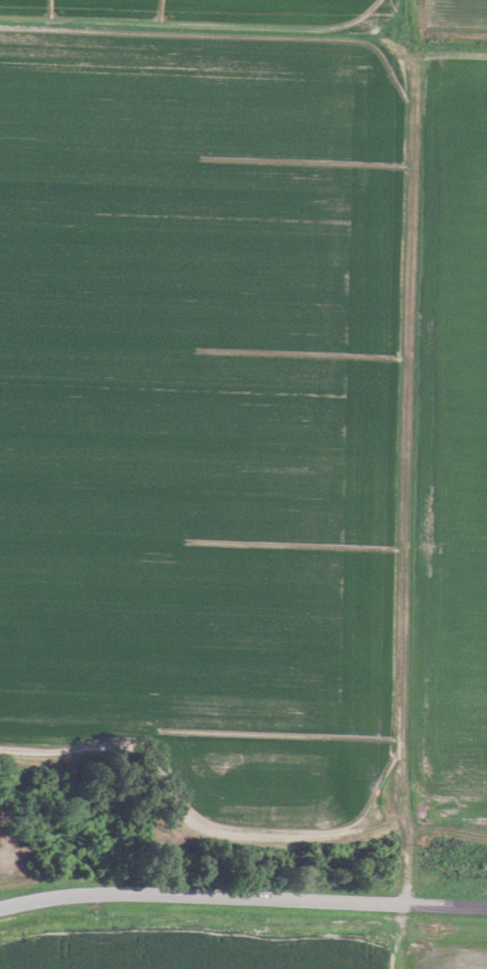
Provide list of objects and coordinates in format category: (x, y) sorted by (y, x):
road: (242, 899)

